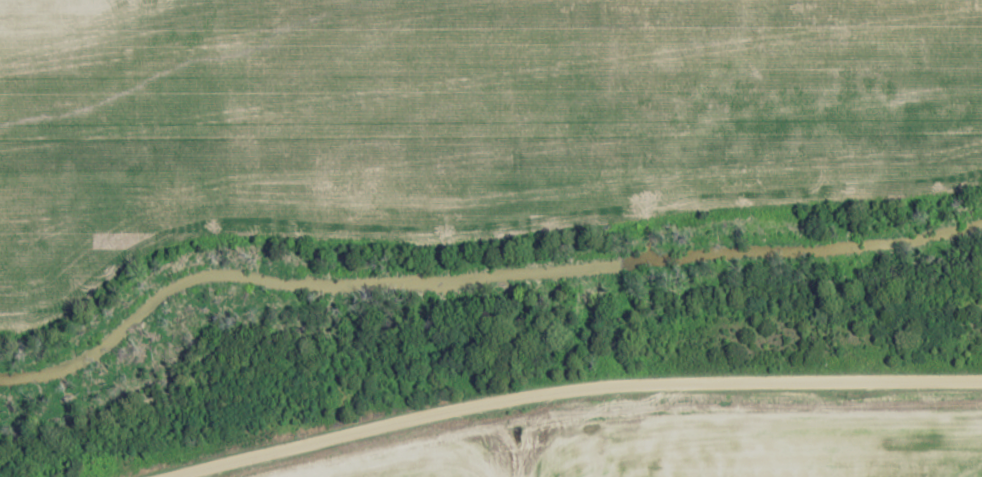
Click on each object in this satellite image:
road: (578, 390)

